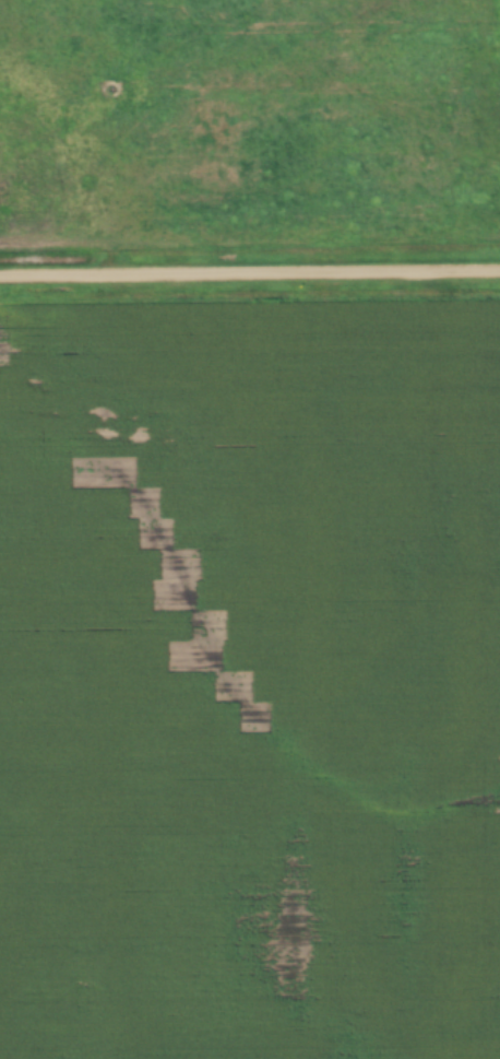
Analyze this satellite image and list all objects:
road: (250, 278)

